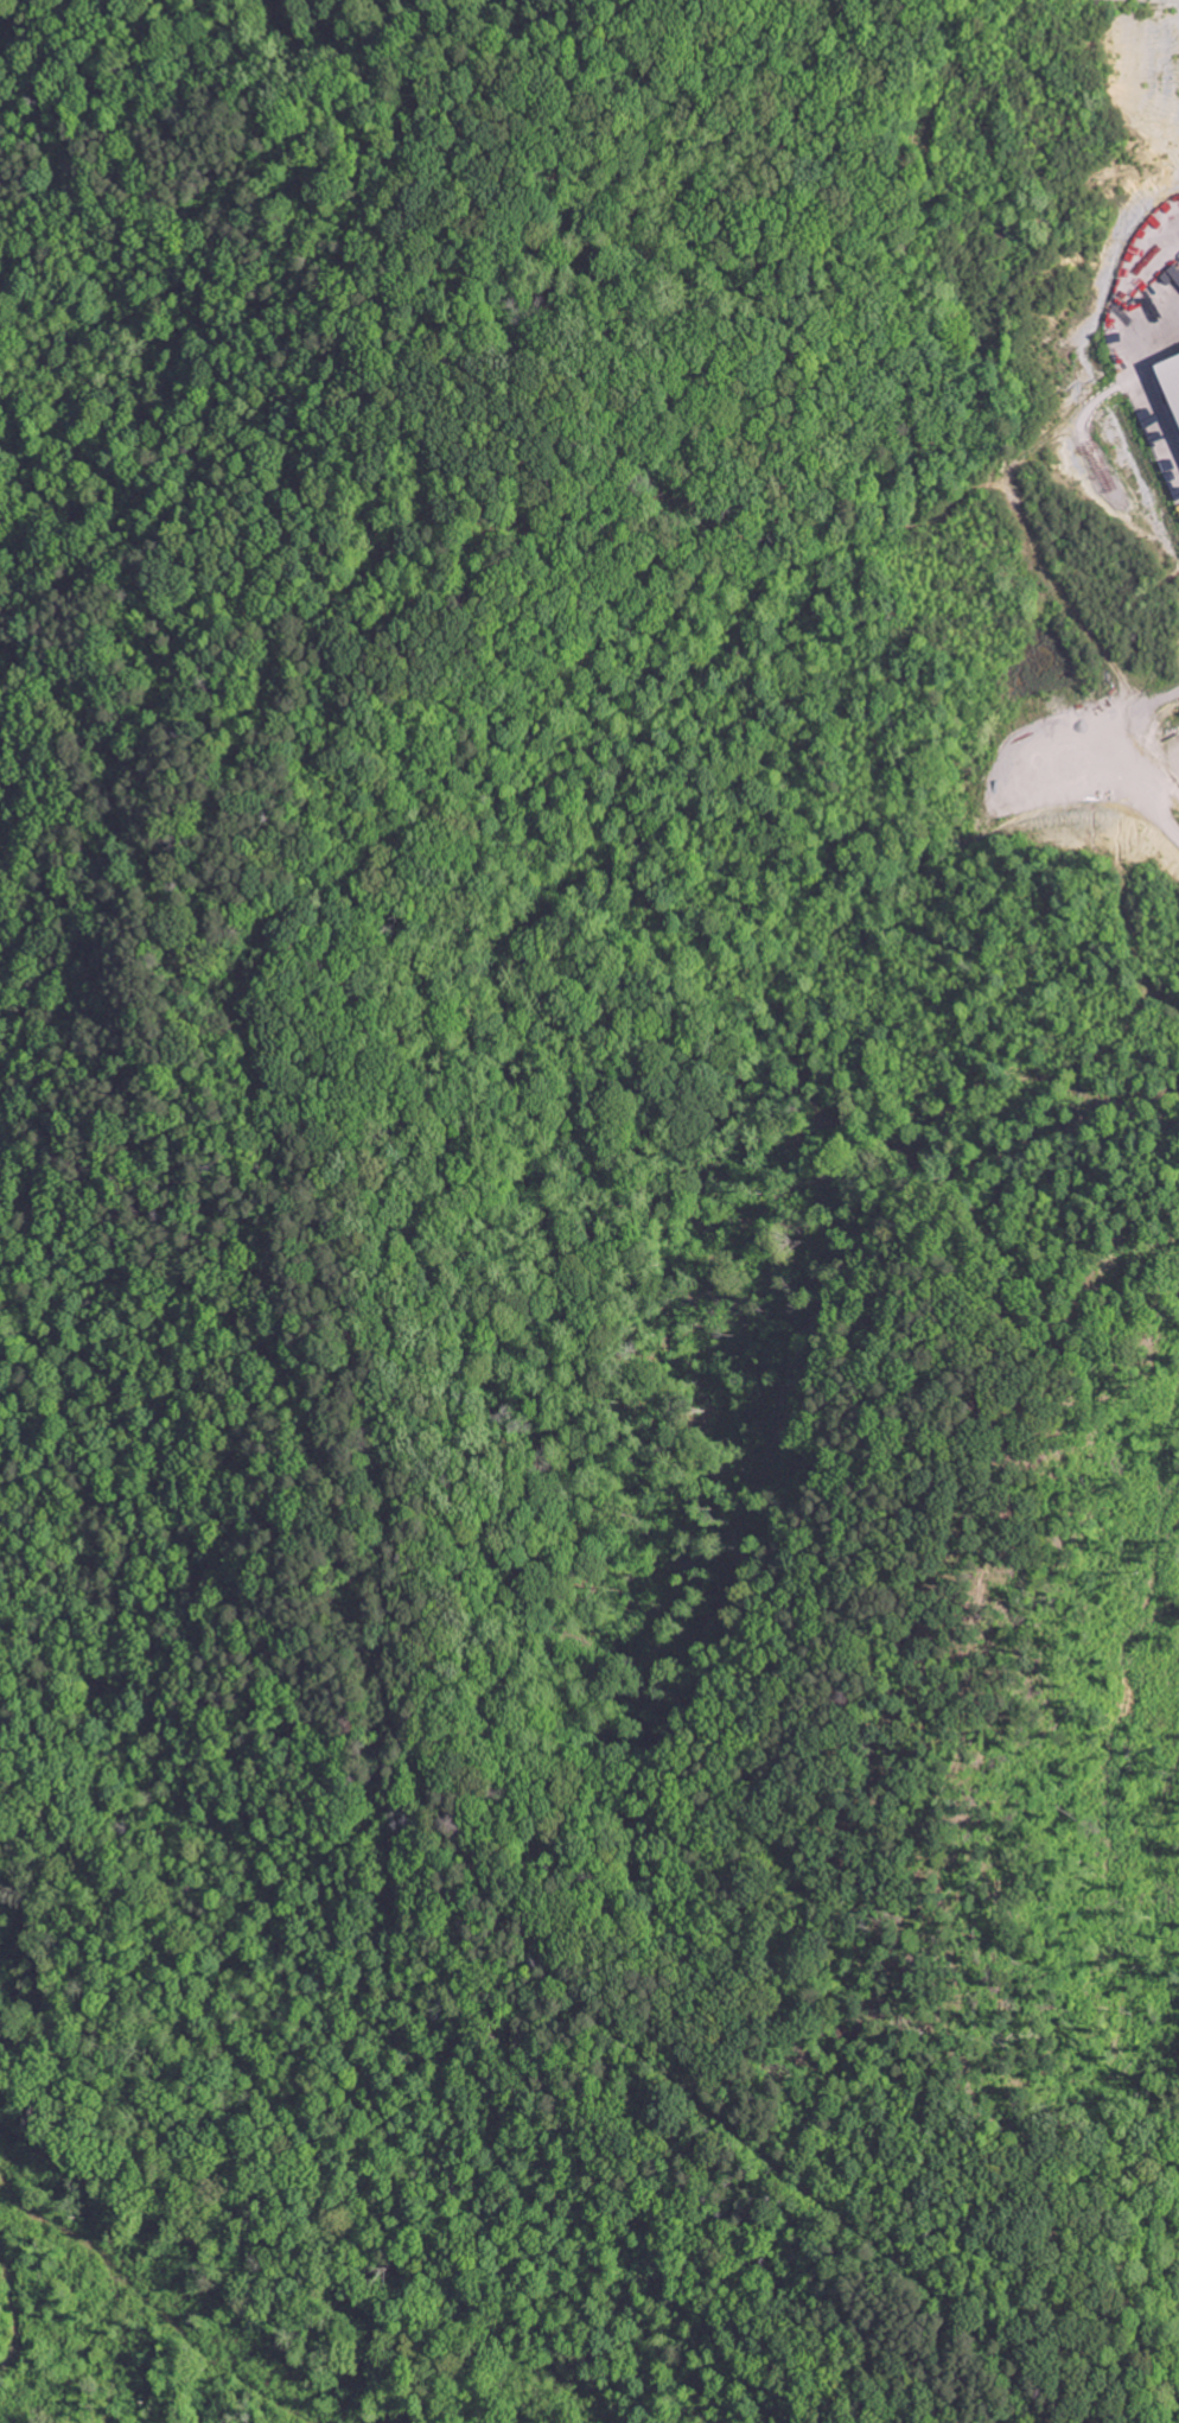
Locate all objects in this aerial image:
building: (1173, 371)
road: (349, 1264)

